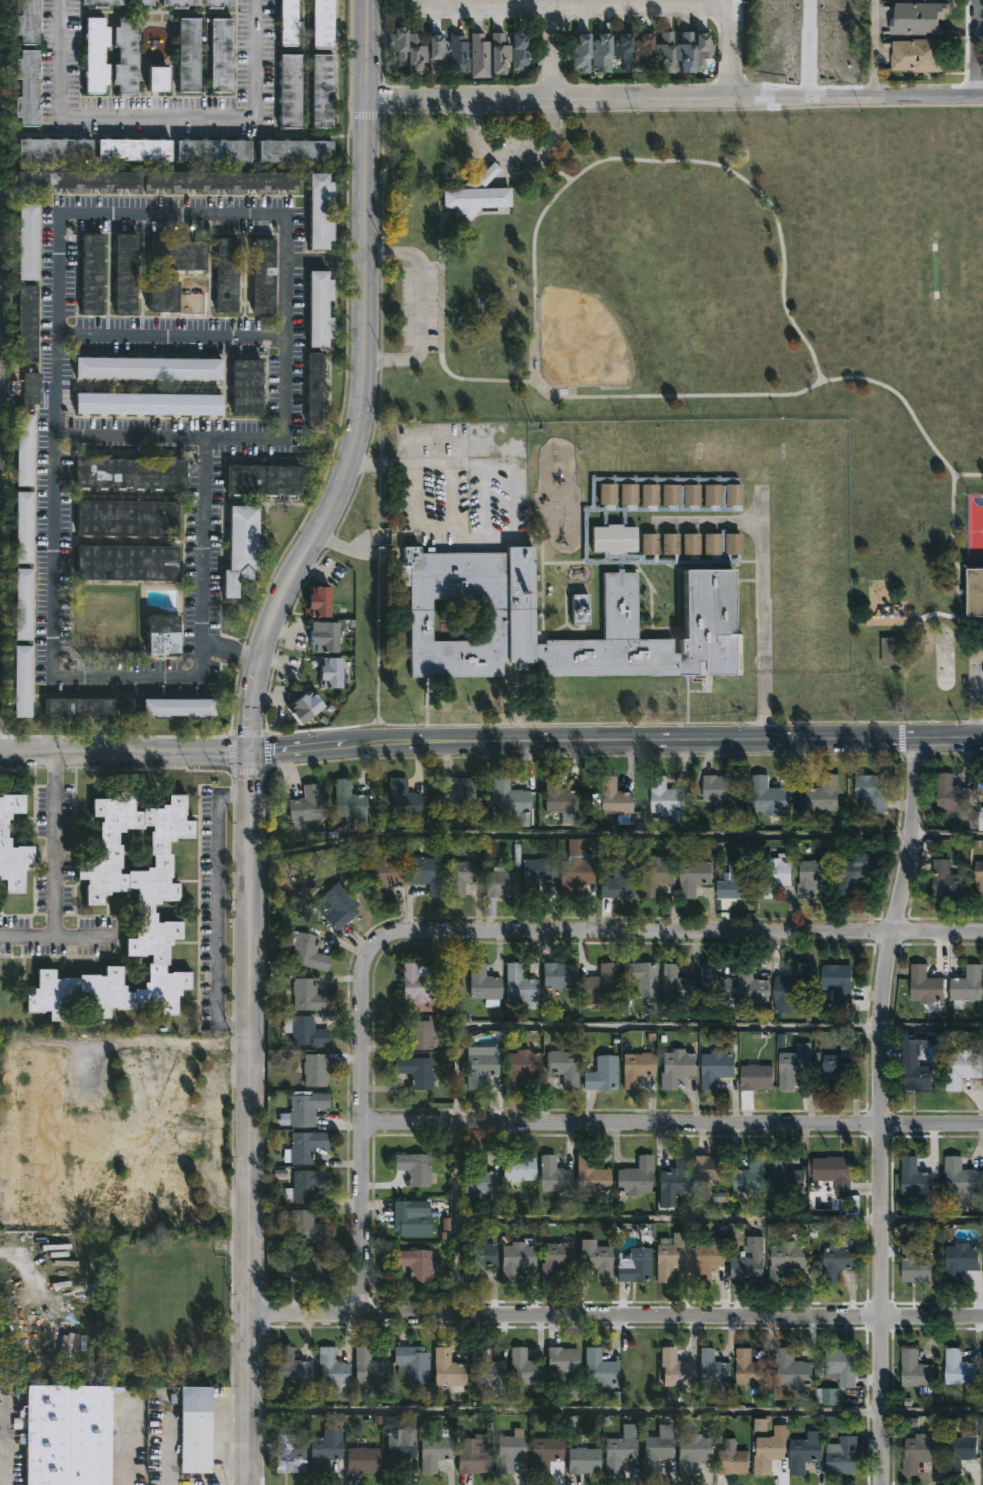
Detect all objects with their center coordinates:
road: (593, 3)
building: (115, 4)
building: (195, 4)
road: (437, 4)
building: (827, 16)
building: (917, 20)
building: (27, 22)
building: (287, 22)
building: (321, 24)
building: (395, 45)
road: (731, 47)
road: (875, 47)
road: (976, 47)
road: (543, 50)
road: (554, 50)
building: (621, 51)
building: (641, 51)
building: (703, 51)
building: (521, 52)
building: (433, 53)
building: (579, 53)
building: (600, 53)
building: (665, 53)
building: (686, 53)
building: (412, 54)
building: (458, 54)
building: (499, 54)
building: (187, 55)
building: (916, 55)
building: (94, 56)
building: (124, 56)
building: (219, 56)
building: (479, 57)
building: (156, 78)
building: (26, 87)
building: (289, 90)
building: (321, 91)
road: (674, 95)
road: (156, 118)
road: (381, 137)
building: (53, 148)
building: (133, 149)
building: (212, 149)
building: (294, 150)
road: (513, 155)
road: (659, 161)
building: (78, 178)
building: (220, 179)
building: (475, 195)
building: (319, 211)
road: (134, 213)
building: (26, 241)
building: (177, 255)
road: (312, 259)
road: (353, 260)
building: (90, 274)
building: (125, 274)
building: (225, 274)
building: (263, 275)
park: (635, 291)
building: (175, 296)
road: (420, 306)
parking lot: (420, 307)
building: (319, 308)
park: (726, 318)
building: (26, 323)
road: (170, 336)
building: (147, 368)
building: (246, 387)
road: (363, 388)
building: (314, 390)
building: (28, 391)
road: (728, 395)
building: (147, 404)
road: (128, 436)
building: (23, 450)
road: (403, 462)
building: (128, 474)
road: (968, 475)
building: (263, 480)
building: (661, 509)
building: (126, 518)
road: (708, 522)
building: (22, 528)
road: (343, 546)
building: (240, 548)
building: (126, 562)
building: (978, 592)
building: (317, 602)
building: (22, 604)
building: (580, 610)
road: (932, 614)
building: (706, 618)
road: (762, 619)
building: (162, 634)
building: (327, 636)
building: (891, 651)
building: (330, 673)
building: (21, 682)
road: (974, 705)
building: (305, 707)
building: (78, 708)
building: (177, 708)
road: (623, 723)
road: (247, 735)
road: (616, 739)
road: (266, 752)
road: (125, 753)
road: (231, 753)
traffic signals: (251, 753)
road: (249, 772)
building: (717, 787)
building: (457, 790)
building: (873, 791)
building: (824, 794)
building: (559, 797)
building: (955, 797)
building: (400, 798)
building: (508, 798)
building: (769, 798)
building: (668, 800)
building: (612, 801)
building: (349, 803)
building: (305, 805)
road: (615, 833)
building: (4, 843)
road: (58, 844)
building: (575, 868)
building: (539, 872)
building: (856, 872)
building: (657, 874)
building: (774, 875)
building: (695, 876)
building: (427, 877)
building: (462, 877)
building: (812, 877)
building: (383, 879)
building: (946, 880)
building: (979, 880)
building: (737, 881)
building: (619, 882)
building: (501, 883)
building: (93, 905)
building: (336, 907)
road: (218, 908)
road: (491, 932)
road: (58, 935)
building: (306, 952)
building: (558, 976)
building: (641, 979)
building: (416, 982)
building: (678, 983)
building: (835, 983)
building: (519, 985)
building: (599, 985)
building: (752, 985)
building: (483, 986)
building: (927, 986)
building: (968, 986)
building: (716, 989)
building: (792, 989)
building: (307, 996)
road: (572, 1025)
building: (306, 1031)
building: (414, 1033)
road: (131, 1044)
building: (915, 1060)
building: (519, 1063)
building: (480, 1066)
building: (795, 1066)
building: (563, 1068)
building: (677, 1068)
building: (716, 1068)
building: (838, 1068)
building: (963, 1068)
building: (314, 1069)
building: (636, 1069)
building: (415, 1072)
building: (602, 1075)
building: (757, 1078)
building: (305, 1108)
road: (880, 1109)
road: (249, 1118)
road: (6, 1121)
road: (672, 1125)
building: (111, 1137)
road: (212, 1137)
building: (304, 1146)
building: (518, 1167)
building: (712, 1167)
building: (414, 1168)
building: (838, 1173)
building: (554, 1175)
building: (752, 1175)
building: (478, 1176)
building: (916, 1176)
building: (592, 1177)
building: (636, 1177)
building: (676, 1177)
building: (789, 1177)
building: (962, 1177)
building: (307, 1183)
road: (718, 1218)
building: (409, 1219)
building: (307, 1225)
building: (518, 1255)
building: (671, 1255)
building: (557, 1257)
building: (749, 1258)
building: (477, 1259)
building: (597, 1259)
building: (787, 1259)
building: (708, 1260)
building: (840, 1260)
building: (961, 1260)
building: (415, 1263)
building: (916, 1264)
building: (634, 1265)
building: (309, 1267)
road: (615, 1315)
building: (562, 1359)
building: (412, 1363)
building: (842, 1366)
building: (290, 1367)
building: (369, 1367)
building: (448, 1367)
building: (524, 1367)
building: (332, 1368)
building: (714, 1368)
building: (960, 1368)
building: (487, 1369)
building: (676, 1369)
building: (792, 1369)
building: (600, 1370)
building: (752, 1370)
building: (917, 1371)
building: (828, 1395)
road: (616, 1411)
building: (195, 1429)
building: (66, 1434)
road: (3, 1441)
building: (401, 1445)
building: (620, 1449)
road: (124, 1450)
building: (767, 1450)
building: (921, 1450)
building: (324, 1451)
building: (434, 1451)
building: (509, 1451)
building: (806, 1451)
building: (693, 1452)
building: (545, 1453)
building: (655, 1453)
building: (959, 1453)
building: (288, 1455)
building: (362, 1456)
building: (474, 1456)
building: (841, 1456)
building: (730, 1459)
building: (583, 1460)

